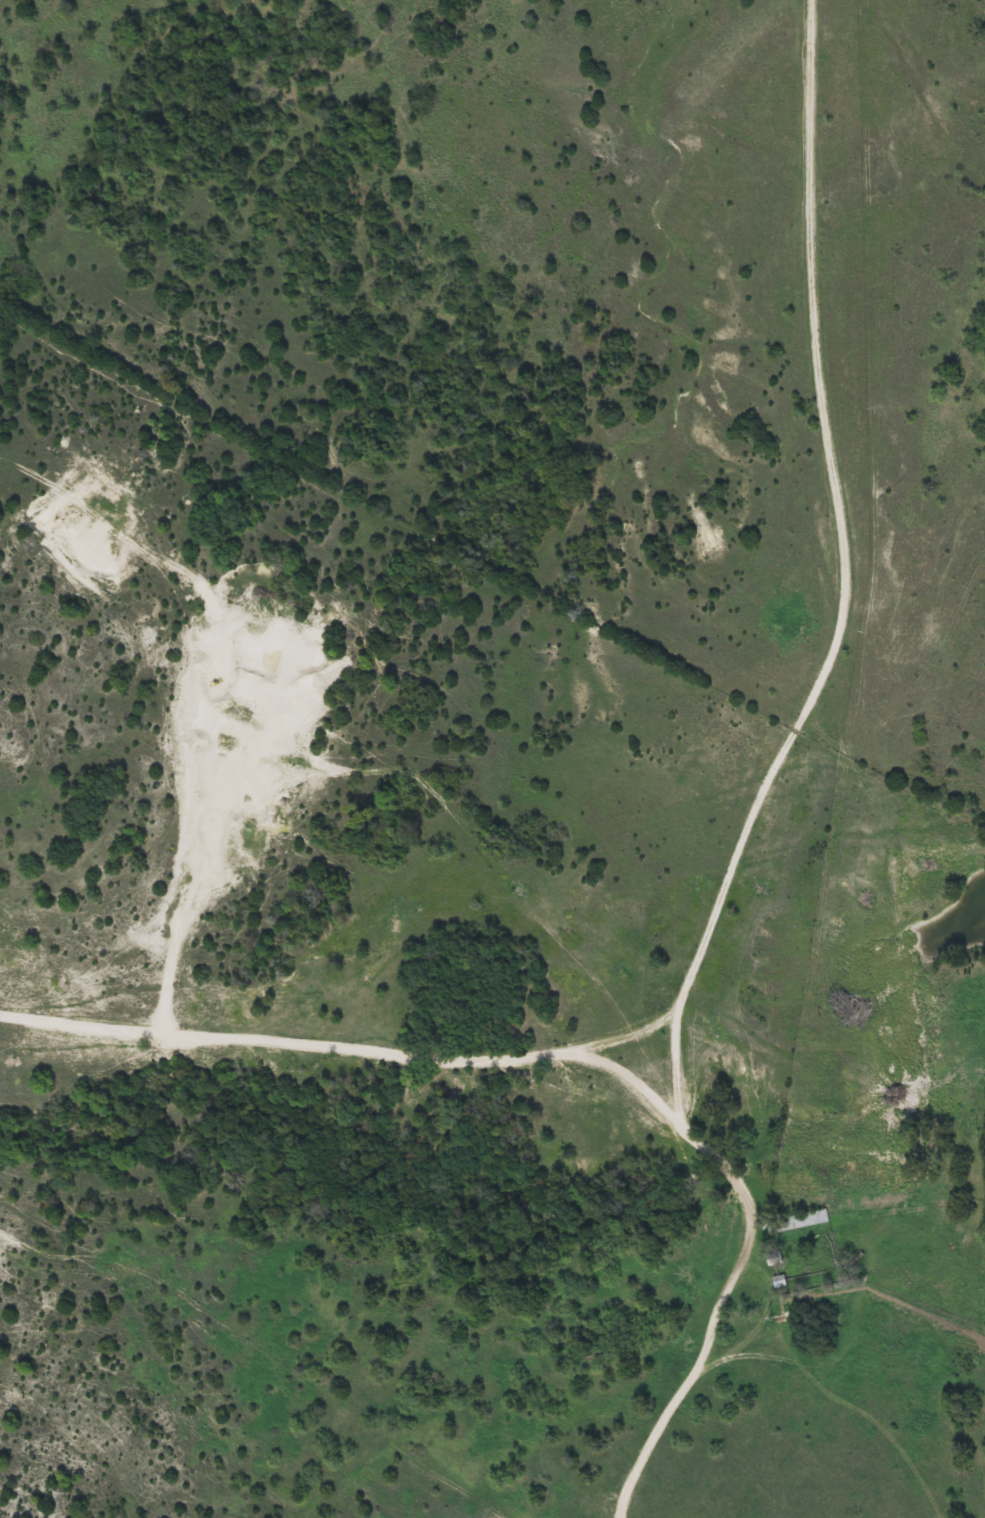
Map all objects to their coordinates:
road: (849, 657)
road: (341, 1048)
building: (800, 1220)
building: (778, 1259)
road: (760, 1285)

